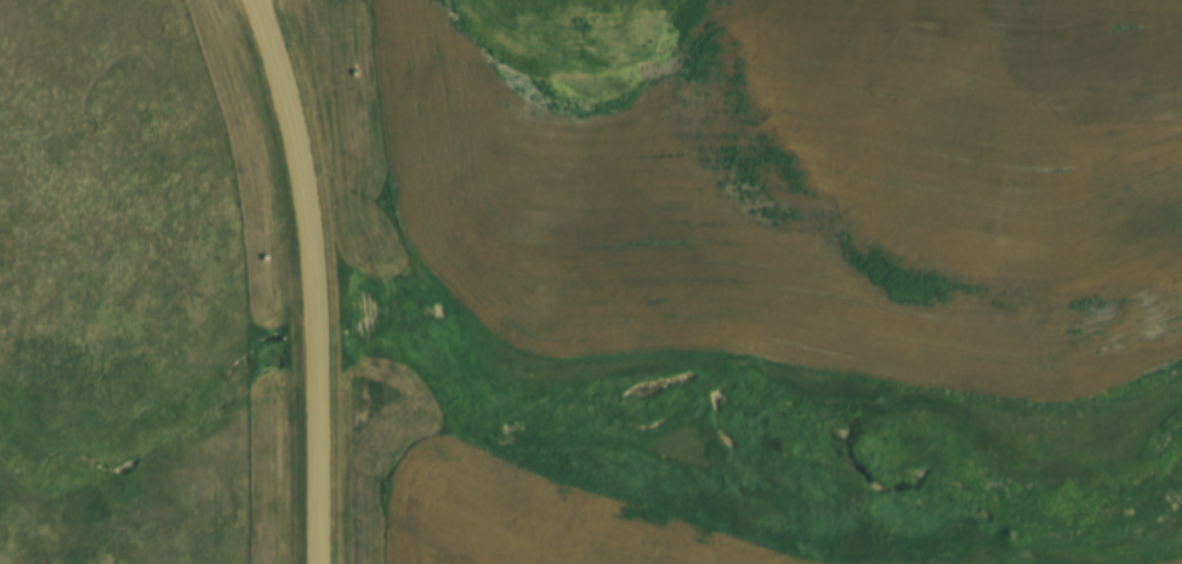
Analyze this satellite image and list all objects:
road: (313, 277)

